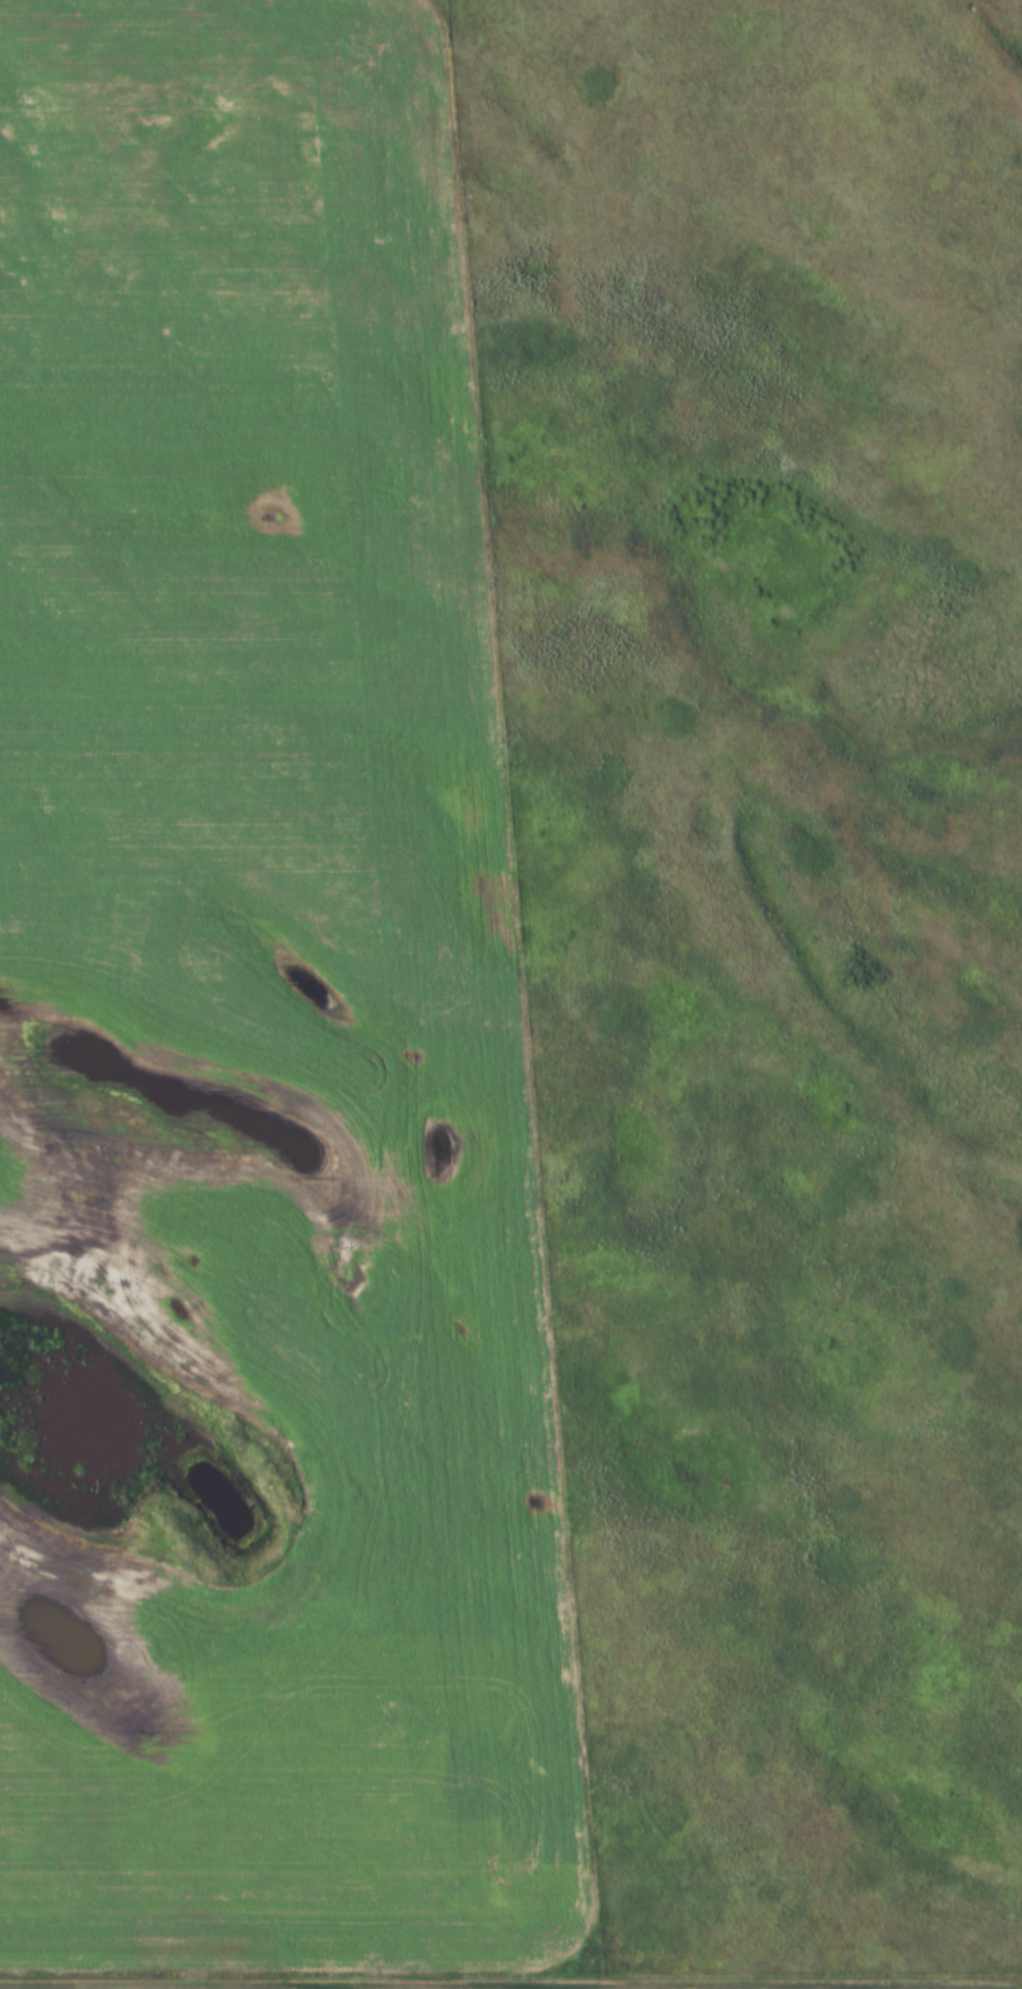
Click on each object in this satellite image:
road: (511, 1979)

